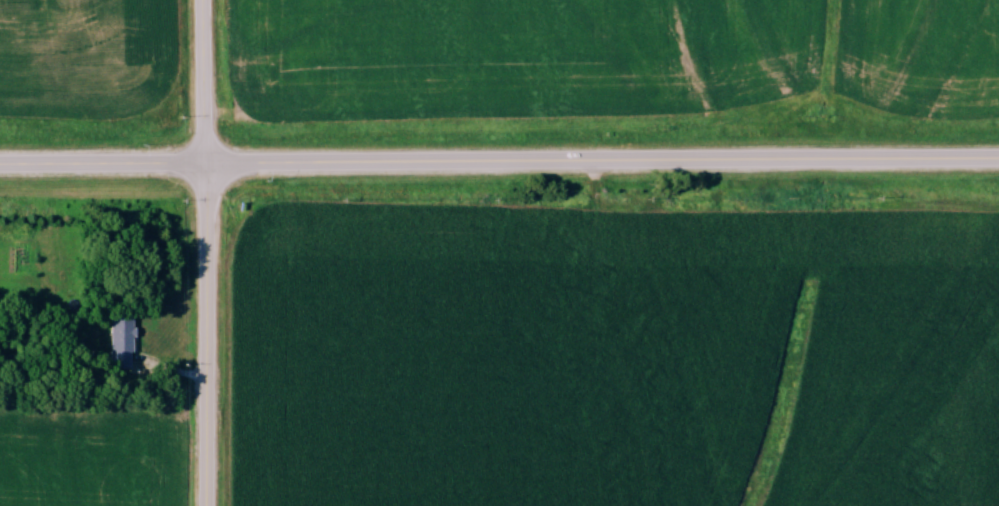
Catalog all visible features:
road: (499, 162)
road: (205, 252)
building: (122, 336)

